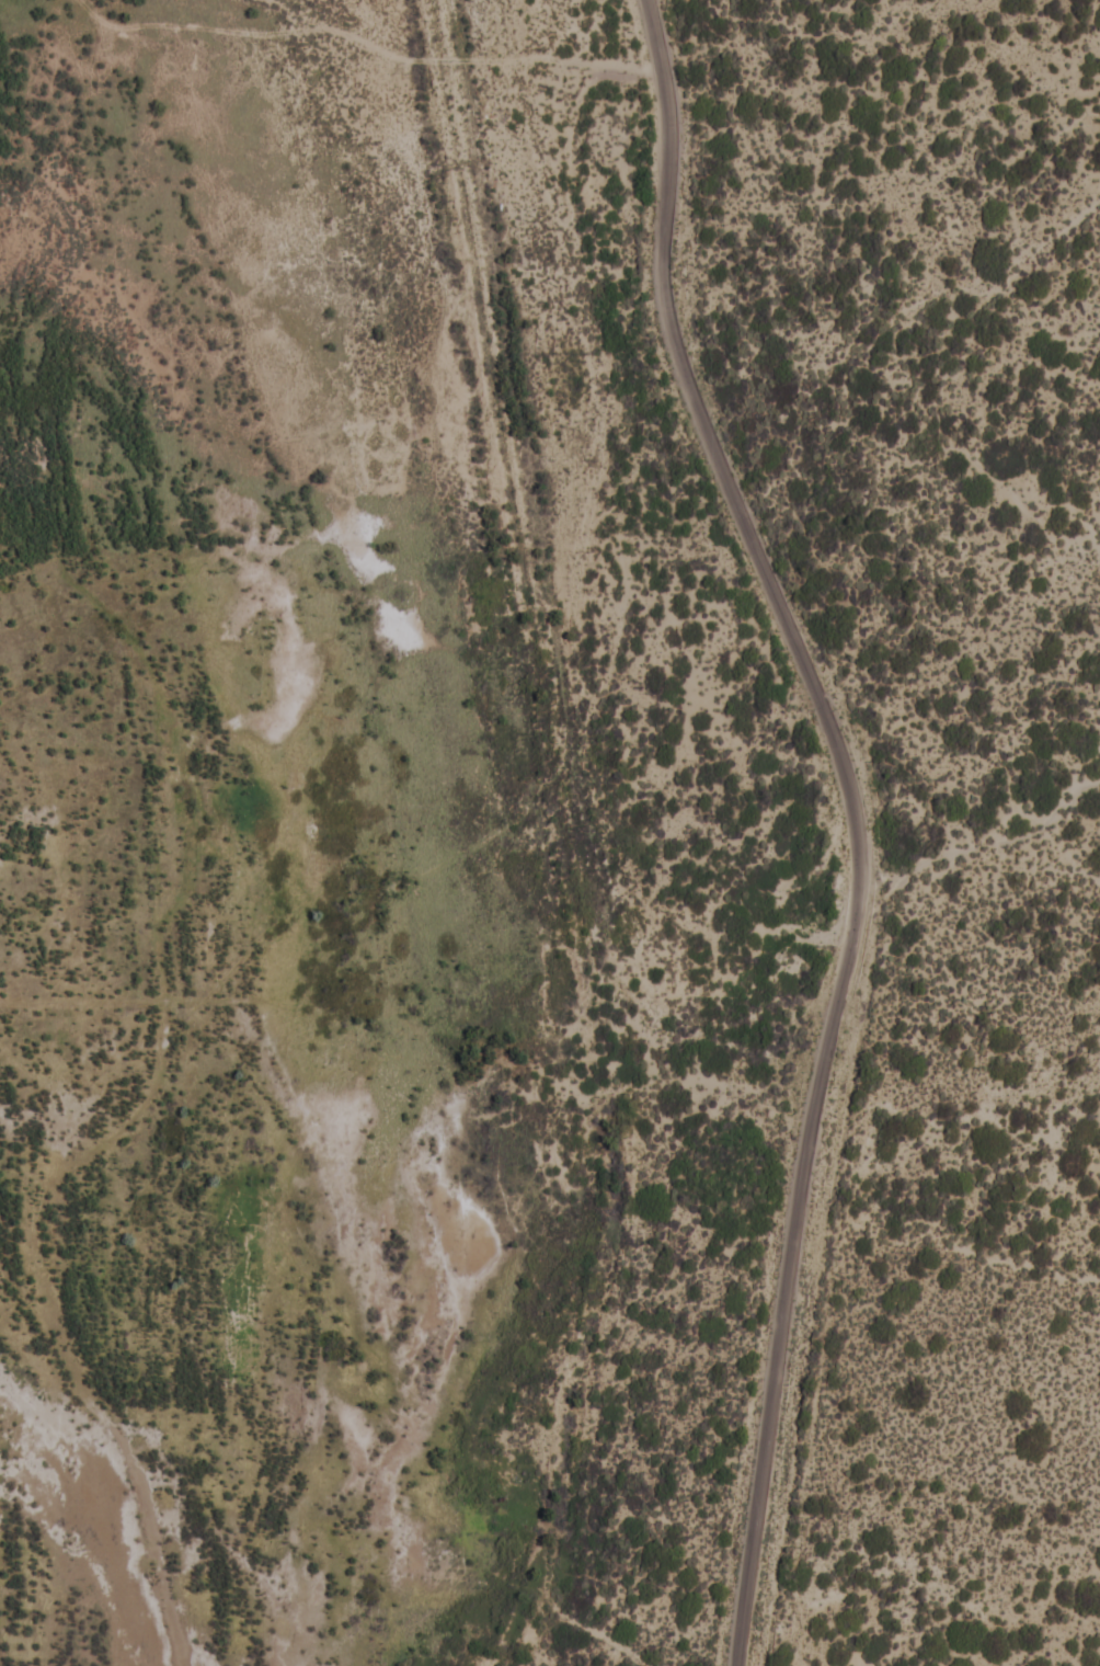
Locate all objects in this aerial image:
road: (833, 822)

